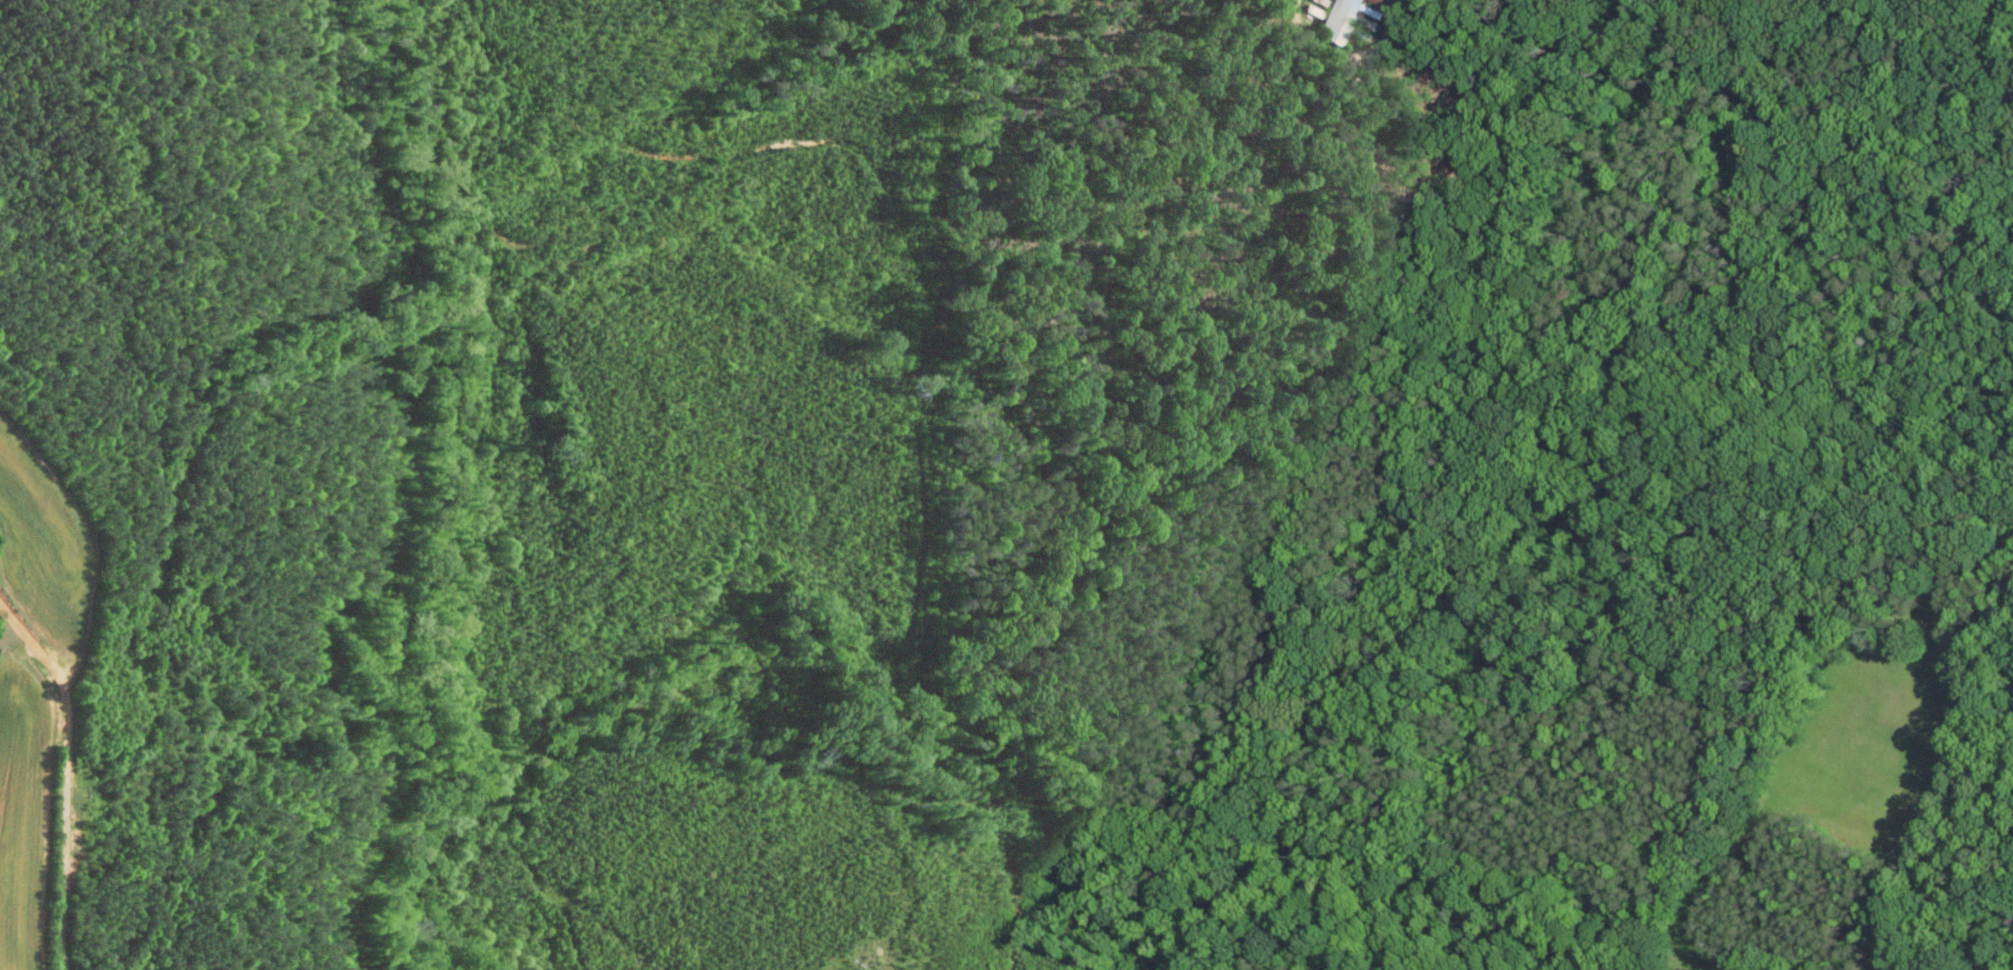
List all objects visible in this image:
building: (1341, 19)

